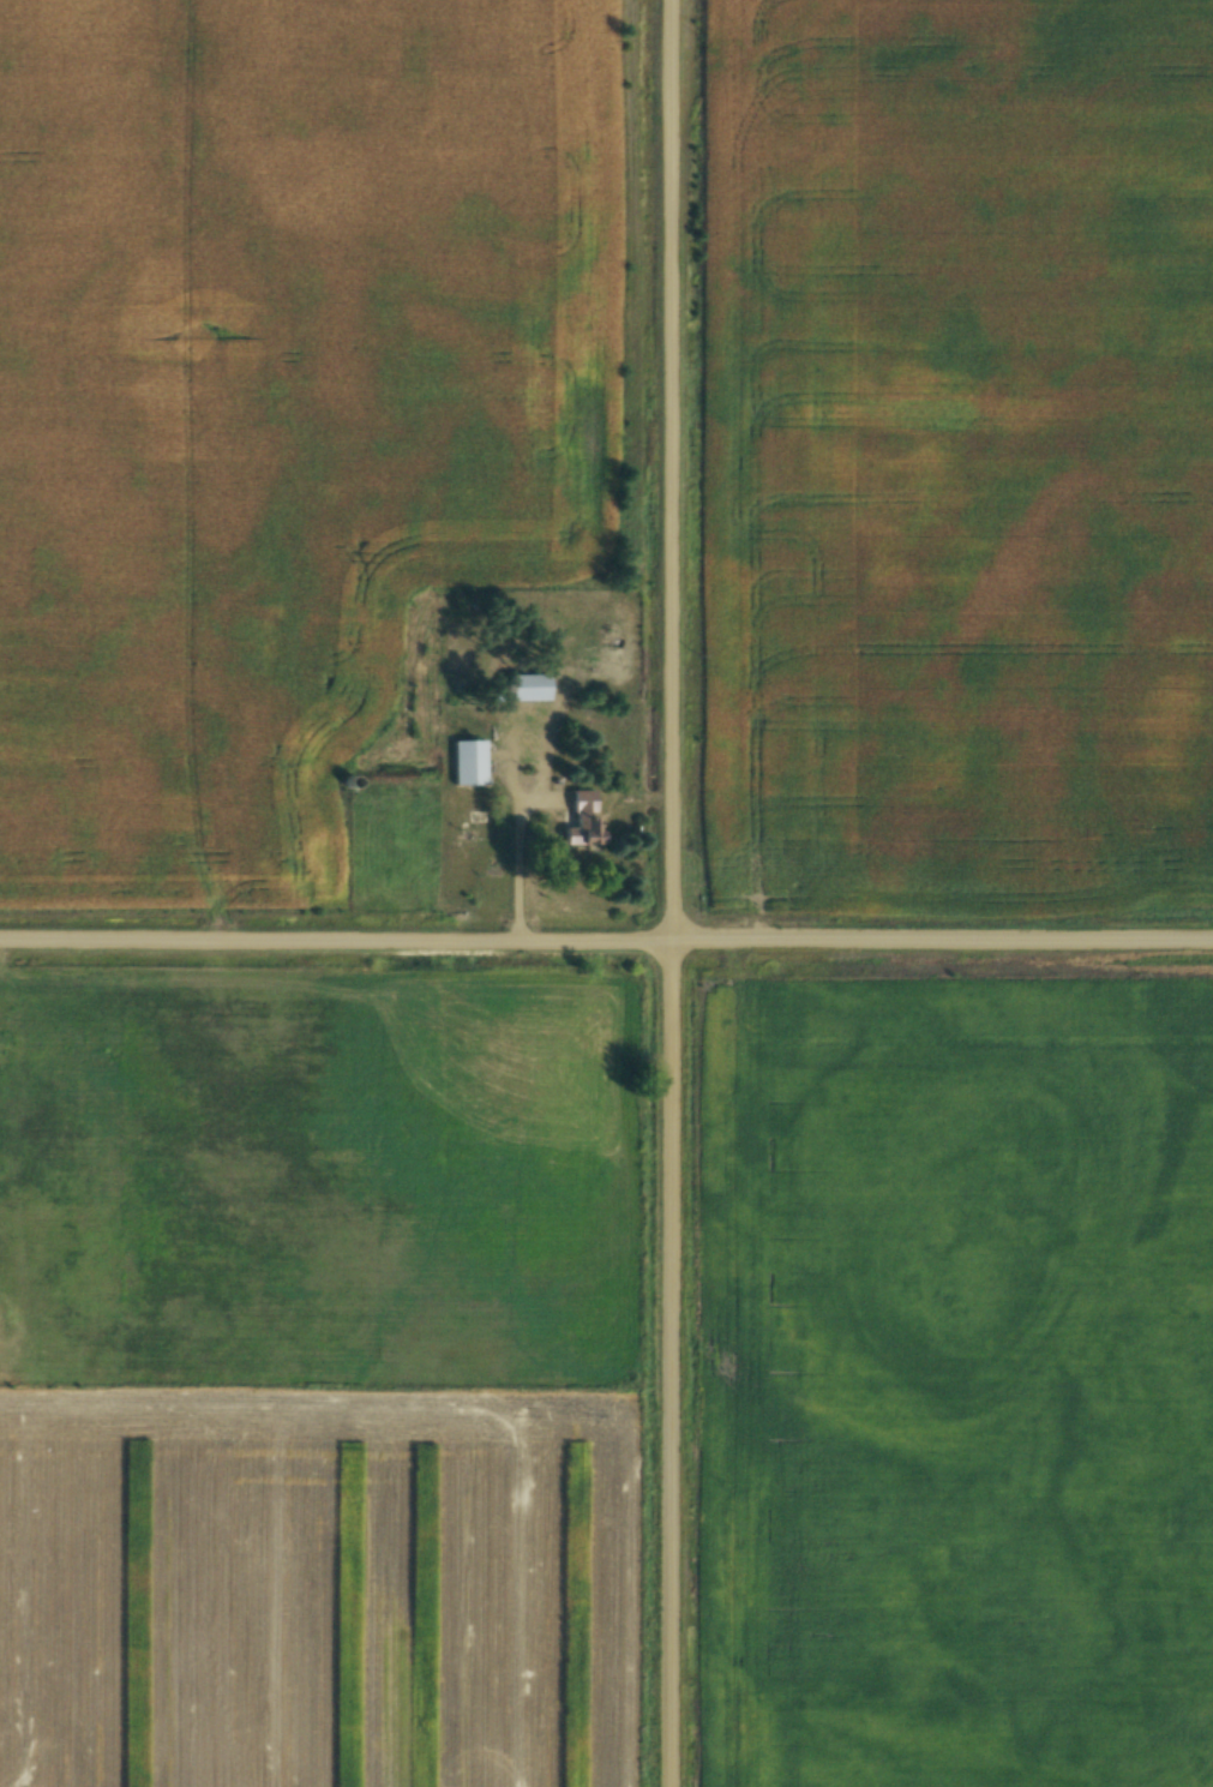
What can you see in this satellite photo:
building: (523, 688)
building: (468, 763)
building: (583, 817)
road: (518, 866)
road: (653, 893)
road: (606, 947)

